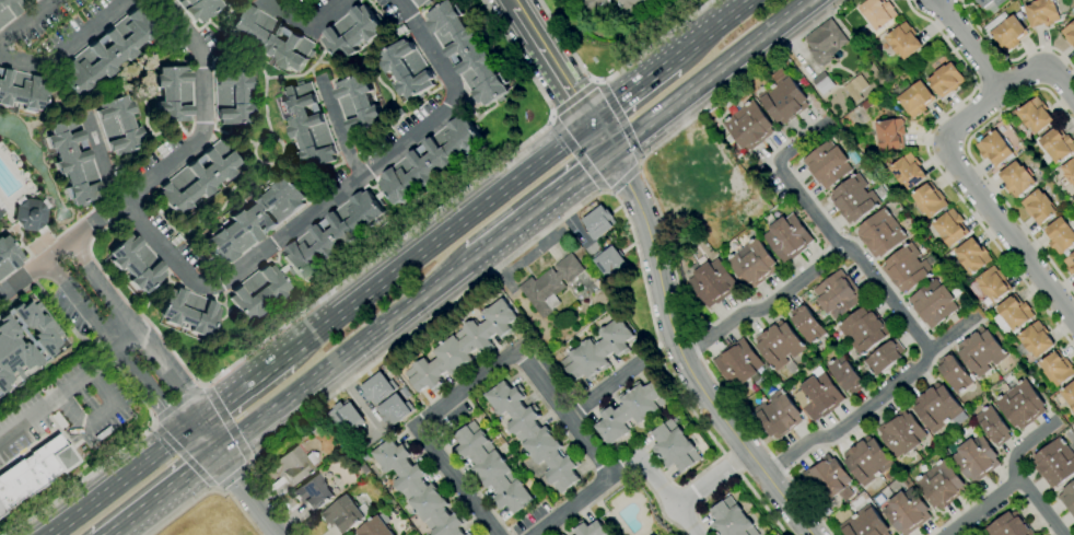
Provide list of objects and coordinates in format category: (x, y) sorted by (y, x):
building: (30, 0)
building: (34, 0)
building: (656, 0)
building: (419, 2)
road: (511, 3)
building: (595, 4)
building: (989, 4)
building: (633, 5)
building: (199, 8)
building: (1020, 9)
building: (8, 10)
building: (877, 13)
building: (1042, 13)
road: (25, 19)
building: (1005, 31)
road: (308, 32)
road: (714, 32)
building: (352, 33)
building: (1069, 34)
building: (270, 38)
building: (903, 40)
building: (825, 42)
road: (969, 43)
road: (74, 49)
building: (108, 51)
building: (467, 54)
road: (1006, 61)
road: (551, 66)
building: (407, 70)
road: (989, 72)
road: (612, 73)
road: (705, 75)
building: (946, 80)
road: (595, 82)
building: (822, 83)
building: (855, 88)
building: (22, 91)
building: (173, 94)
road: (632, 94)
building: (783, 97)
building: (232, 98)
building: (915, 100)
road: (985, 100)
road: (572, 102)
building: (359, 104)
building: (866, 104)
building: (897, 108)
building: (1035, 115)
road: (550, 119)
road: (619, 121)
building: (118, 125)
building: (307, 125)
building: (749, 126)
road: (343, 130)
building: (889, 135)
building: (1057, 146)
building: (994, 149)
road: (107, 156)
road: (577, 156)
building: (853, 156)
building: (430, 161)
building: (73, 162)
road: (639, 162)
road: (973, 162)
road: (960, 163)
building: (696, 165)
building: (827, 165)
road: (161, 171)
building: (1069, 171)
building: (908, 172)
road: (938, 172)
road: (622, 177)
building: (198, 178)
building: (1016, 179)
building: (668, 188)
building: (700, 188)
road: (605, 194)
road: (337, 198)
building: (854, 200)
building: (929, 200)
road: (538, 206)
building: (1038, 206)
road: (433, 212)
fountain: (62, 214)
building: (31, 216)
building: (255, 220)
building: (598, 222)
building: (949, 228)
road: (827, 230)
road: (545, 232)
building: (332, 234)
building: (880, 234)
building: (1060, 235)
building: (787, 237)
road: (665, 239)
road: (436, 241)
building: (8, 256)
building: (972, 256)
building: (609, 261)
building: (137, 264)
building: (752, 264)
building: (1070, 264)
building: (907, 268)
building: (712, 282)
building: (597, 284)
building: (993, 284)
building: (550, 286)
building: (258, 292)
building: (837, 294)
road: (762, 304)
building: (933, 304)
building: (188, 312)
building: (1014, 313)
building: (808, 325)
building: (38, 326)
building: (863, 329)
building: (1034, 340)
road: (677, 342)
building: (779, 344)
road: (148, 345)
building: (462, 347)
building: (597, 351)
building: (980, 351)
road: (343, 354)
building: (14, 358)
building: (884, 358)
road: (128, 359)
building: (738, 363)
building: (1057, 369)
building: (953, 373)
building: (845, 375)
road: (199, 382)
road: (478, 383)
road: (69, 384)
road: (203, 385)
road: (245, 387)
building: (378, 389)
road: (602, 392)
building: (818, 395)
building: (1069, 395)
road: (872, 398)
road: (177, 403)
building: (1020, 405)
building: (937, 408)
parking lot: (71, 409)
building: (394, 411)
building: (630, 411)
building: (778, 415)
road: (98, 416)
building: (346, 418)
road: (152, 419)
road: (227, 422)
road: (155, 423)
building: (993, 426)
building: (901, 433)
building: (534, 435)
building: (674, 446)
road: (184, 456)
building: (365, 456)
building: (976, 458)
road: (250, 461)
building: (867, 461)
building: (1054, 462)
building: (293, 465)
building: (364, 469)
building: (492, 469)
building: (34, 472)
road: (233, 475)
road: (128, 477)
road: (709, 477)
building: (827, 479)
road: (81, 480)
building: (941, 485)
road: (1011, 486)
road: (214, 489)
building: (418, 490)
road: (163, 493)
road: (248, 493)
building: (313, 493)
road: (595, 498)
road: (667, 498)
building: (1067, 498)
road: (185, 507)
road: (1038, 509)
building: (906, 512)
building: (345, 514)
building: (731, 520)
building: (864, 524)
building: (1009, 526)
building: (375, 527)
building: (591, 530)
road: (110, 534)
building: (468, 534)
building: (650, 534)

